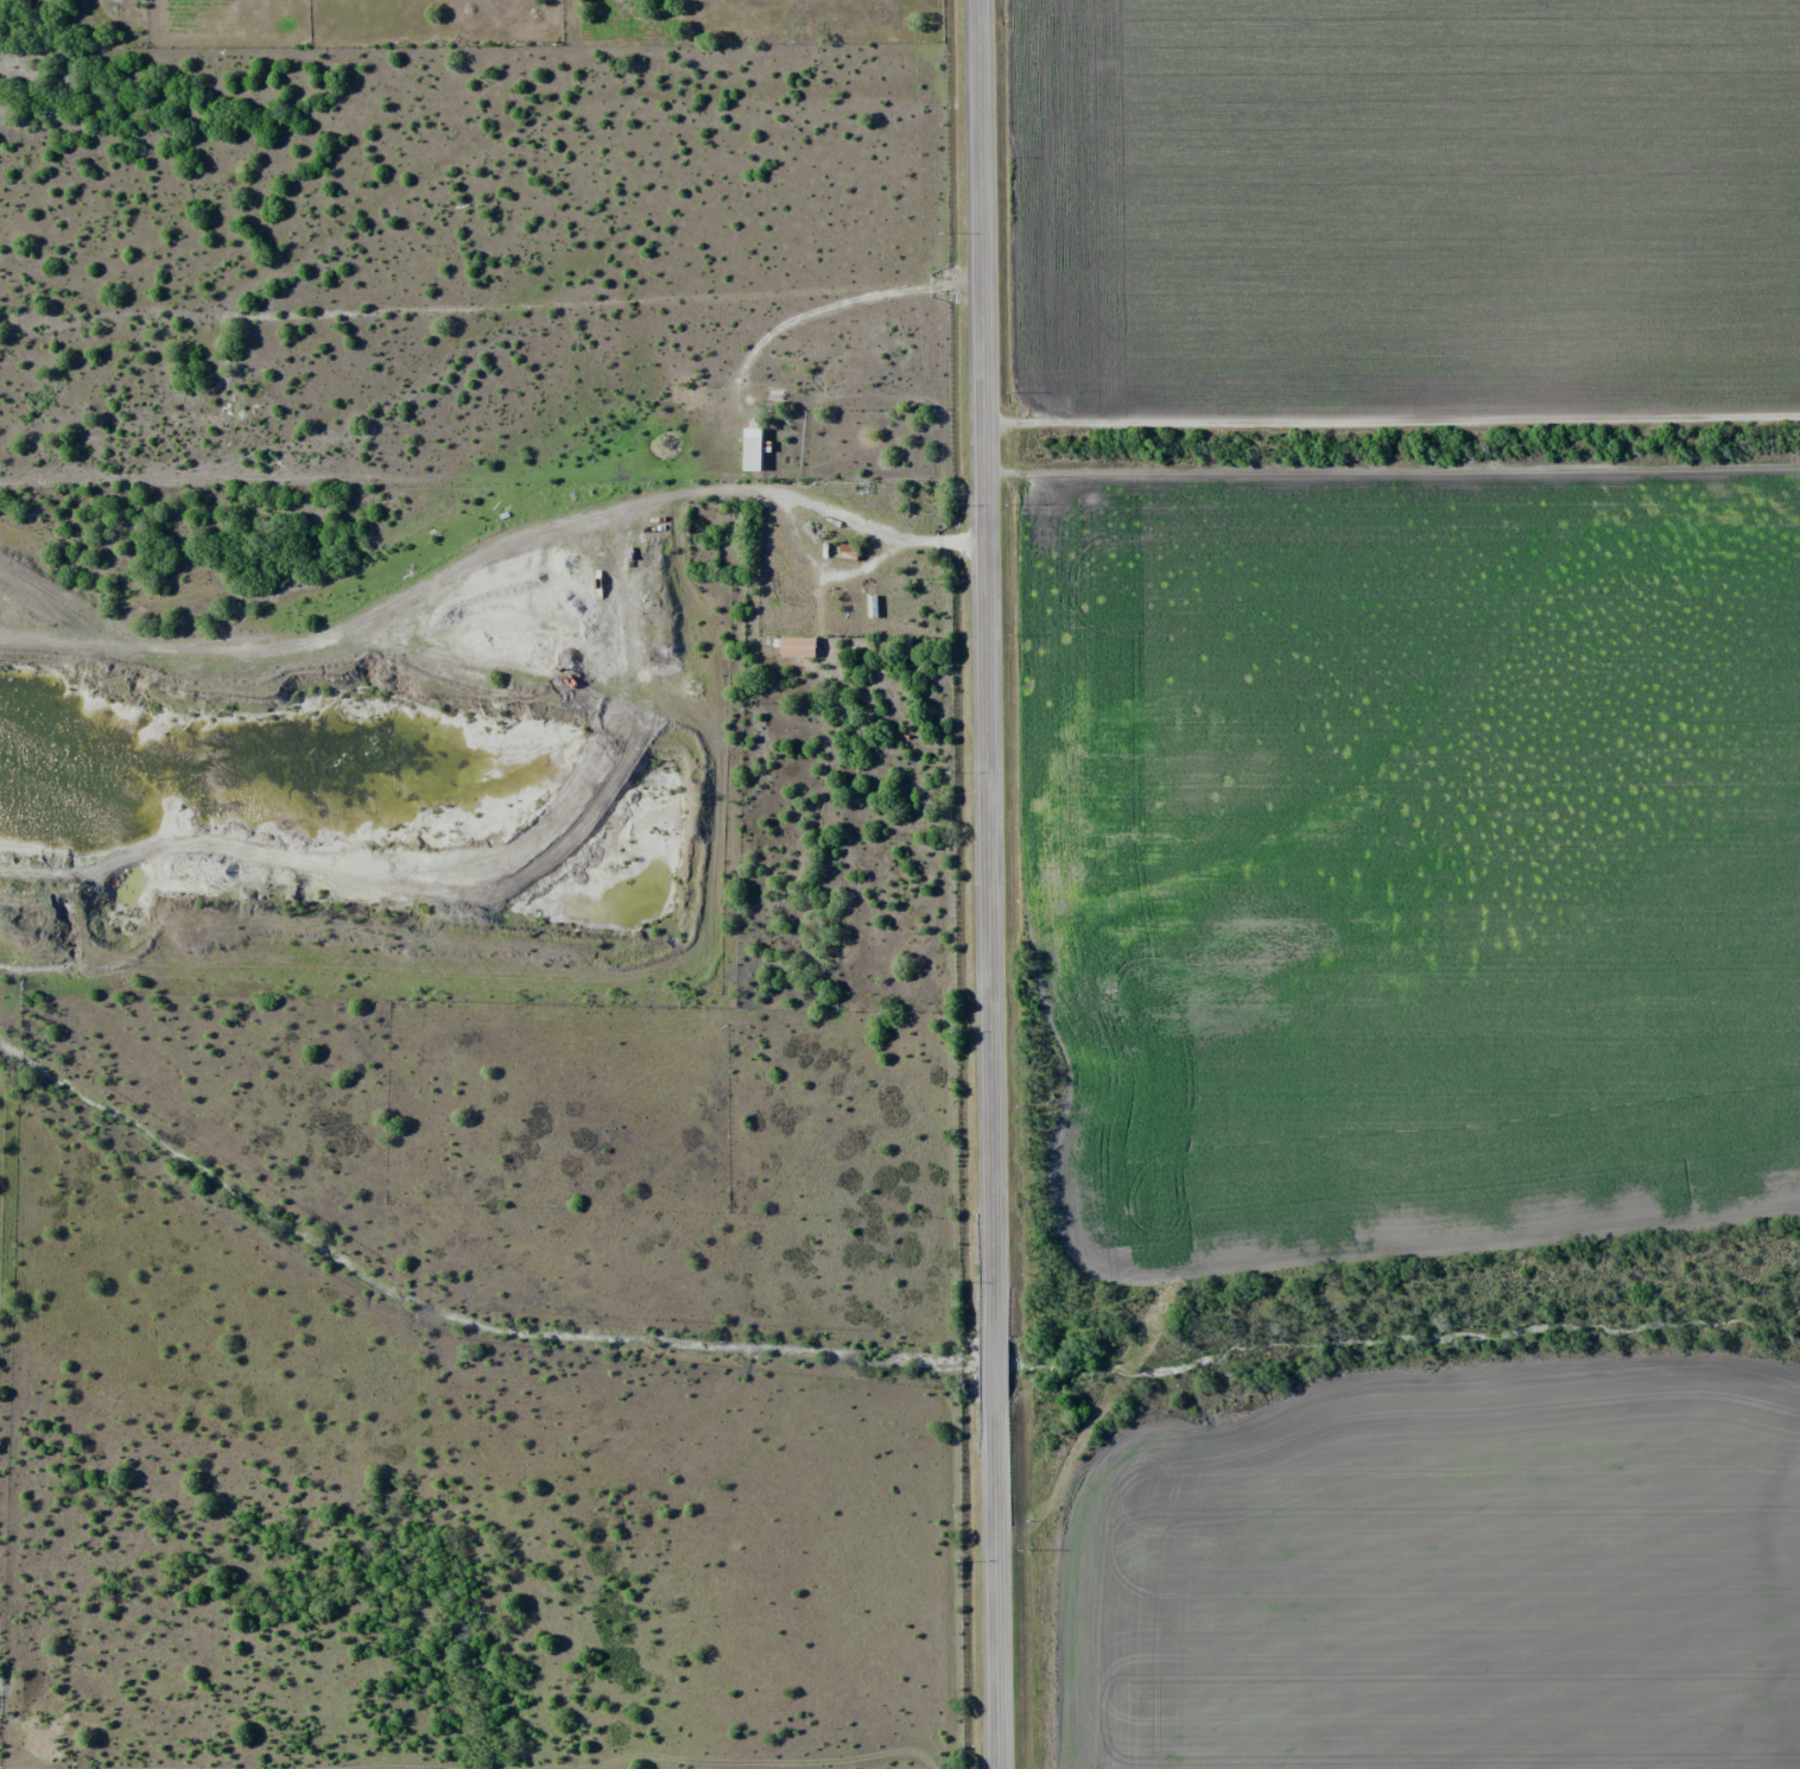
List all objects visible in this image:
building: (796, 647)
road: (990, 883)

